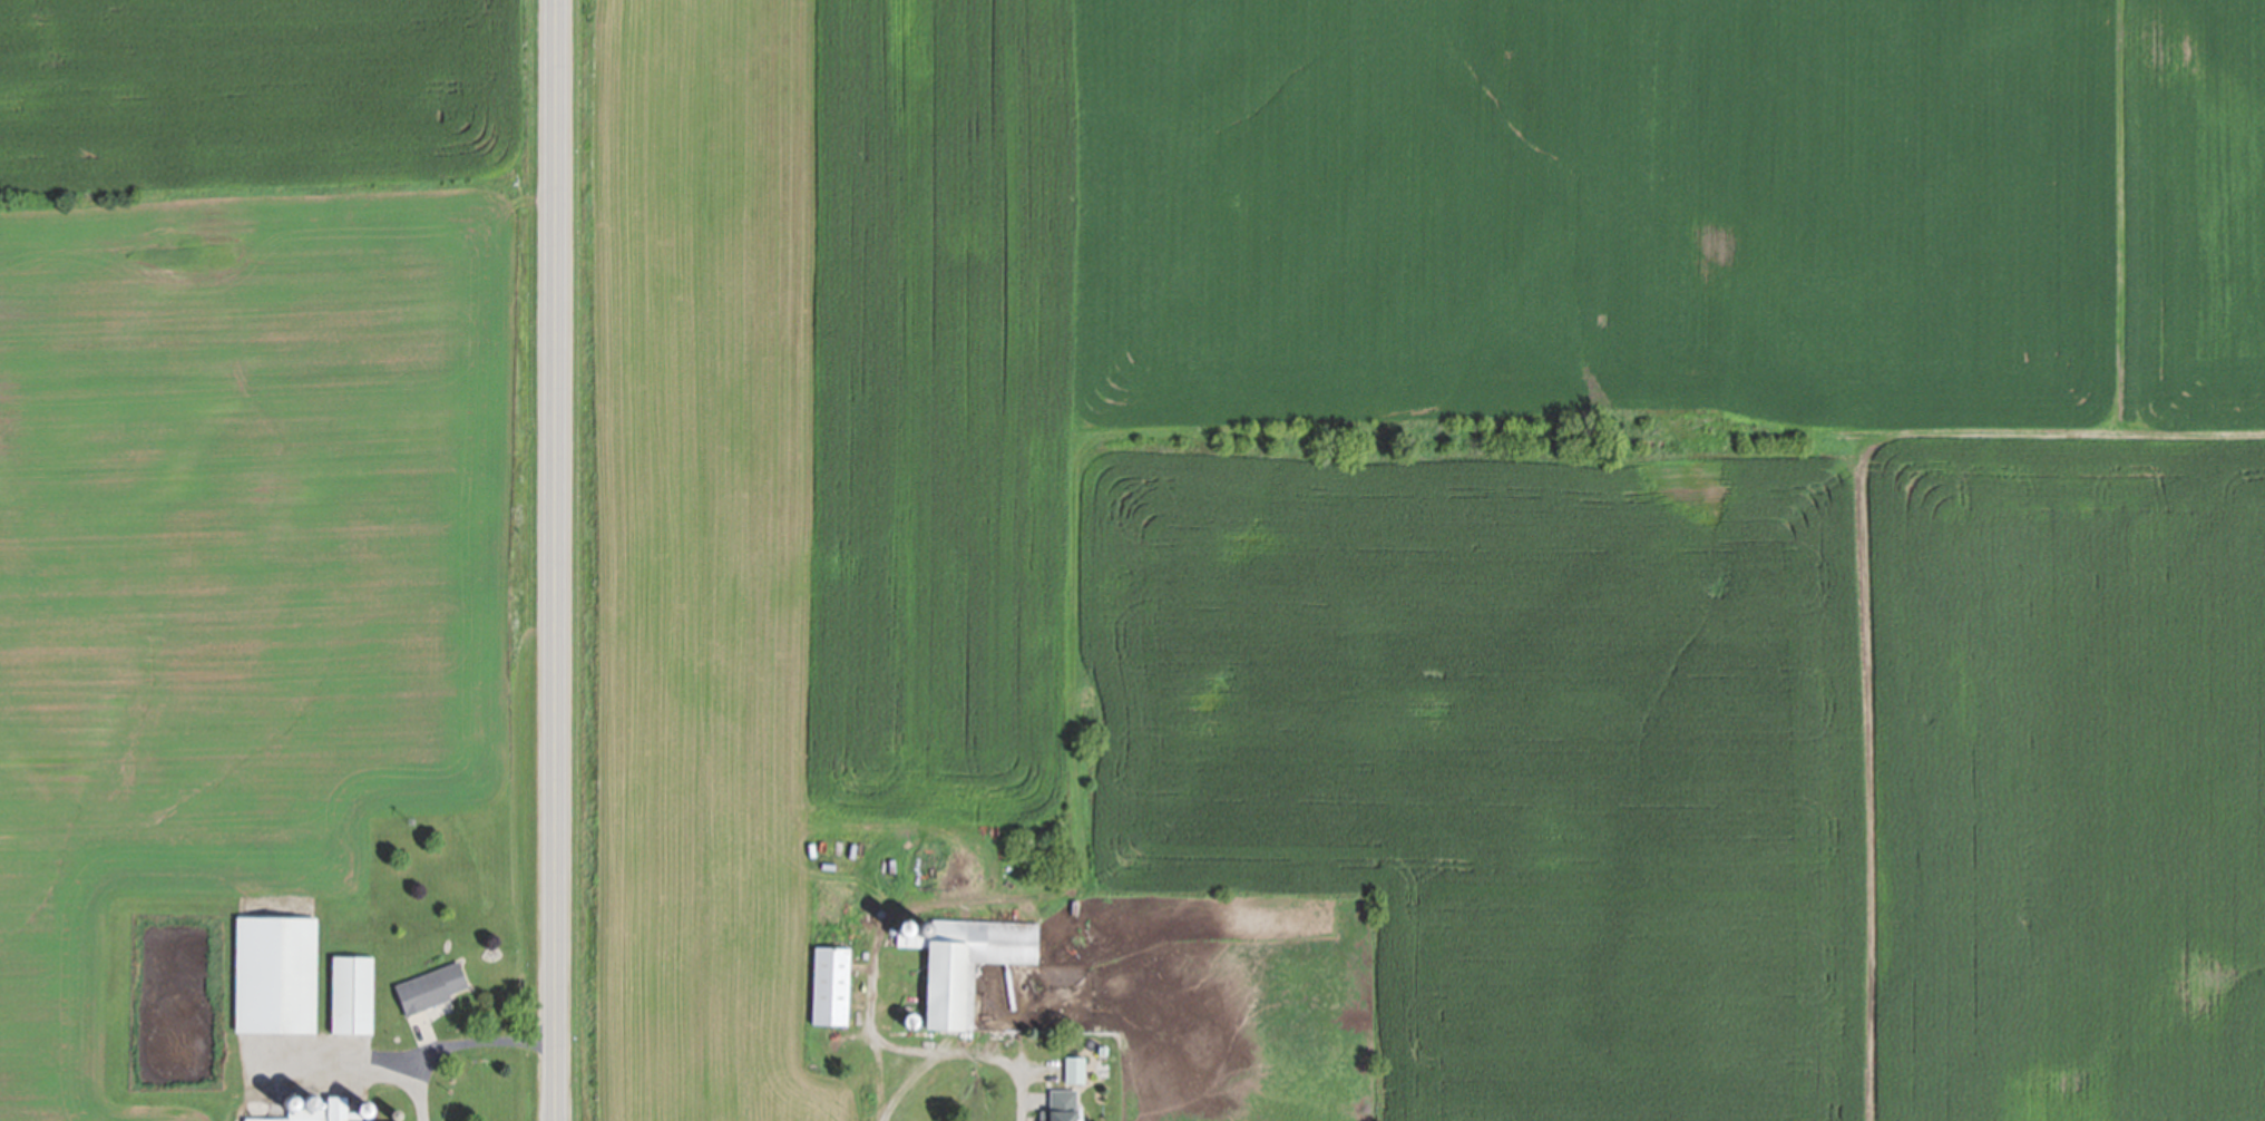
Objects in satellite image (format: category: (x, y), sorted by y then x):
crop: (248, 460)
road: (558, 560)
building: (1042, 854)
building: (922, 925)
building: (905, 928)
building: (968, 971)
building: (276, 981)
building: (831, 992)
building: (431, 993)
building: (353, 1000)
building: (911, 1025)
road: (457, 1041)
road: (963, 1051)
building: (1103, 1056)
building: (1075, 1074)
building: (1062, 1107)
building: (328, 1113)
crop: (168, 1120)

